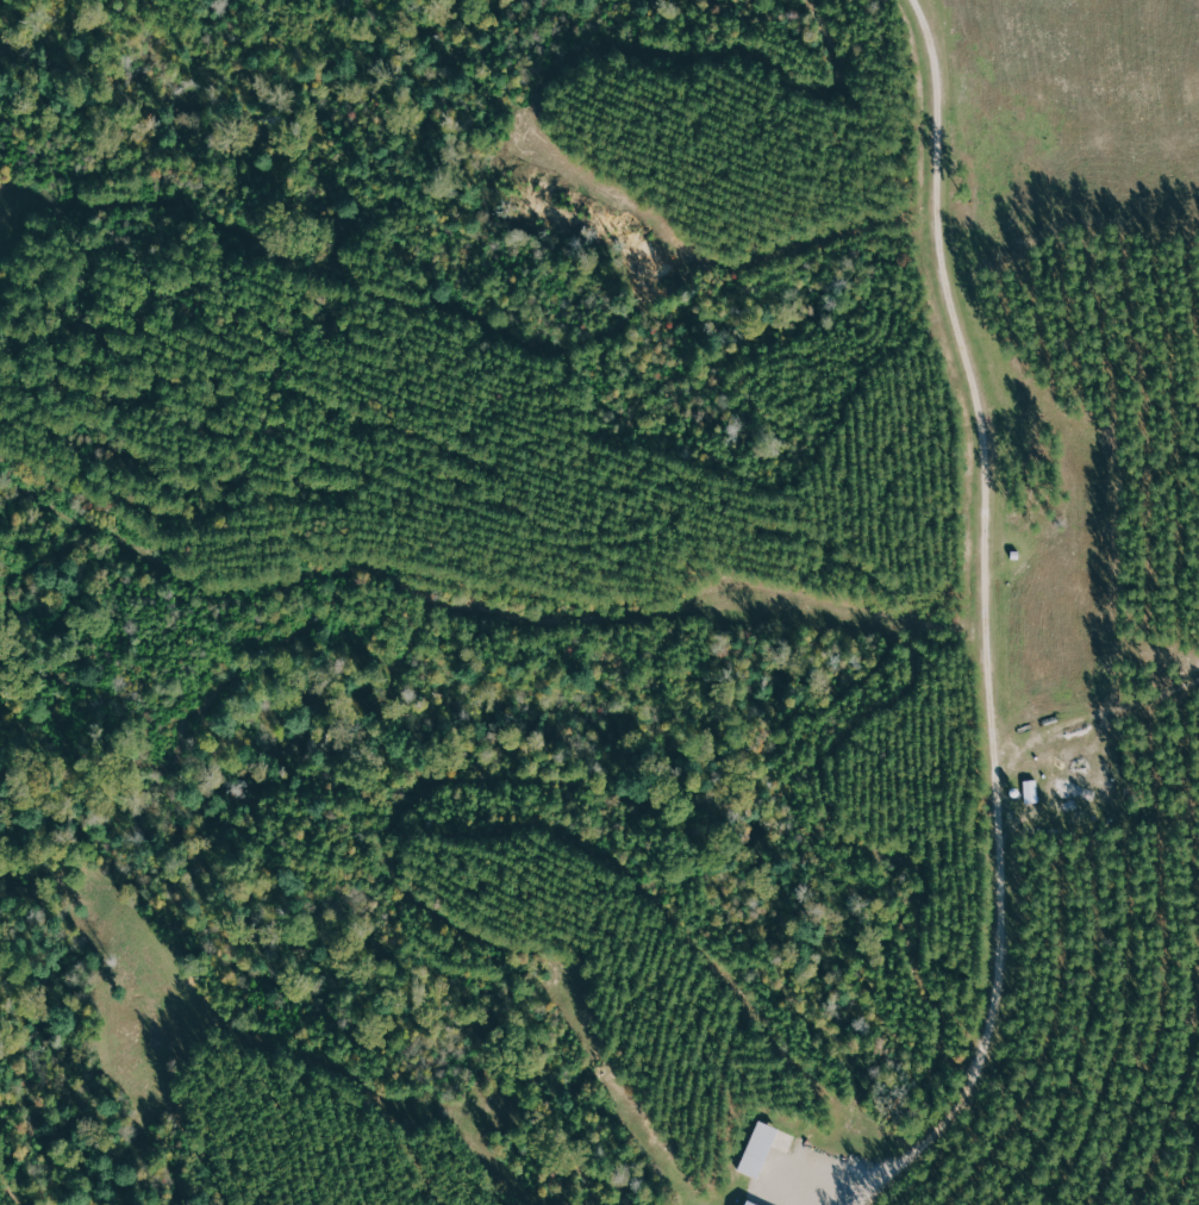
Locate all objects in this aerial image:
road: (985, 622)
building: (756, 1149)
building: (742, 1204)

